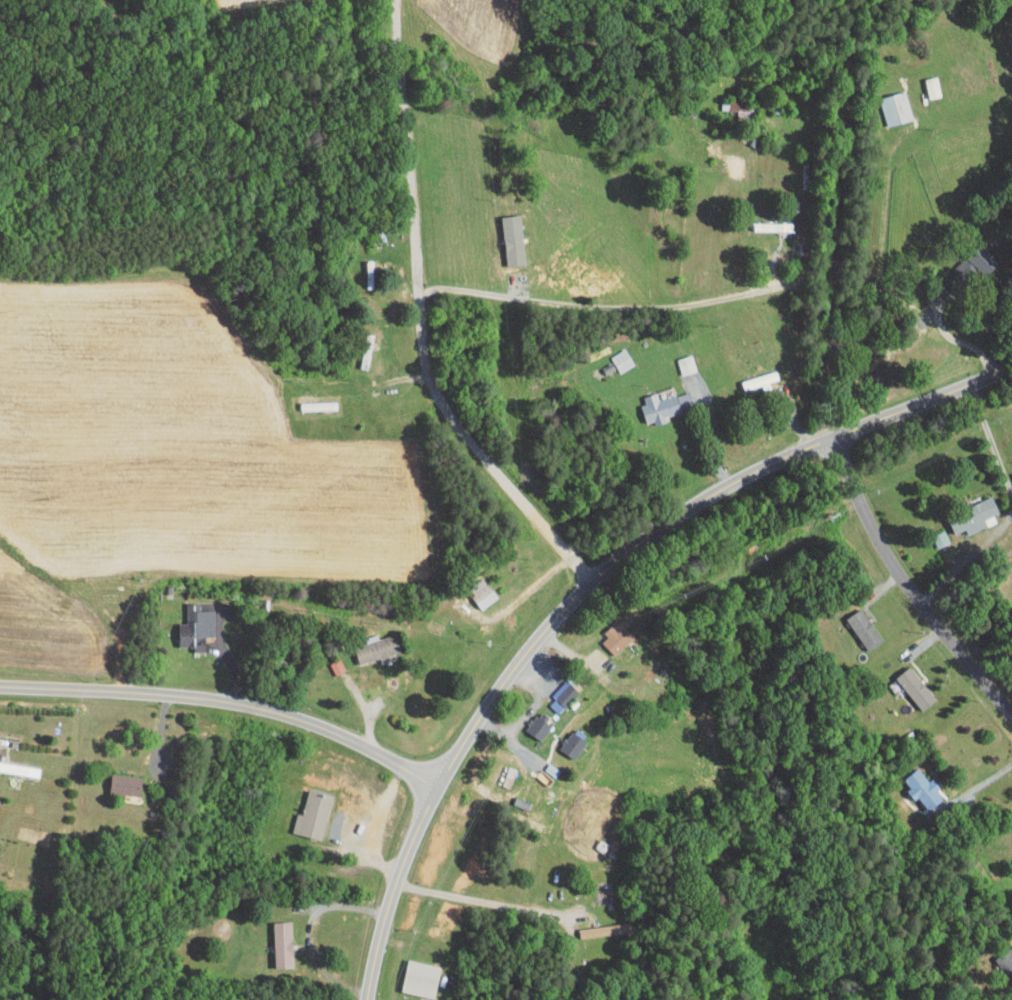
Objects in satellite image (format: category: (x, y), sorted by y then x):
building: (885, 102)
building: (733, 105)
road: (840, 221)
building: (969, 254)
road: (613, 306)
road: (422, 320)
road: (958, 340)
building: (611, 354)
building: (676, 358)
building: (749, 374)
building: (654, 399)
road: (713, 440)
building: (1008, 472)
building: (965, 510)
road: (1010, 510)
road: (590, 586)
road: (905, 586)
building: (473, 590)
building: (185, 622)
building: (853, 623)
building: (606, 632)
building: (366, 643)
building: (327, 660)
building: (905, 682)
building: (552, 690)
road: (227, 700)
road: (531, 711)
building: (528, 720)
building: (561, 739)
building: (495, 769)
building: (115, 778)
building: (912, 782)
road: (984, 784)
building: (303, 809)
building: (1011, 815)
road: (479, 898)
building: (592, 924)
road: (309, 931)
building: (272, 938)
building: (1000, 956)
building: (411, 972)

